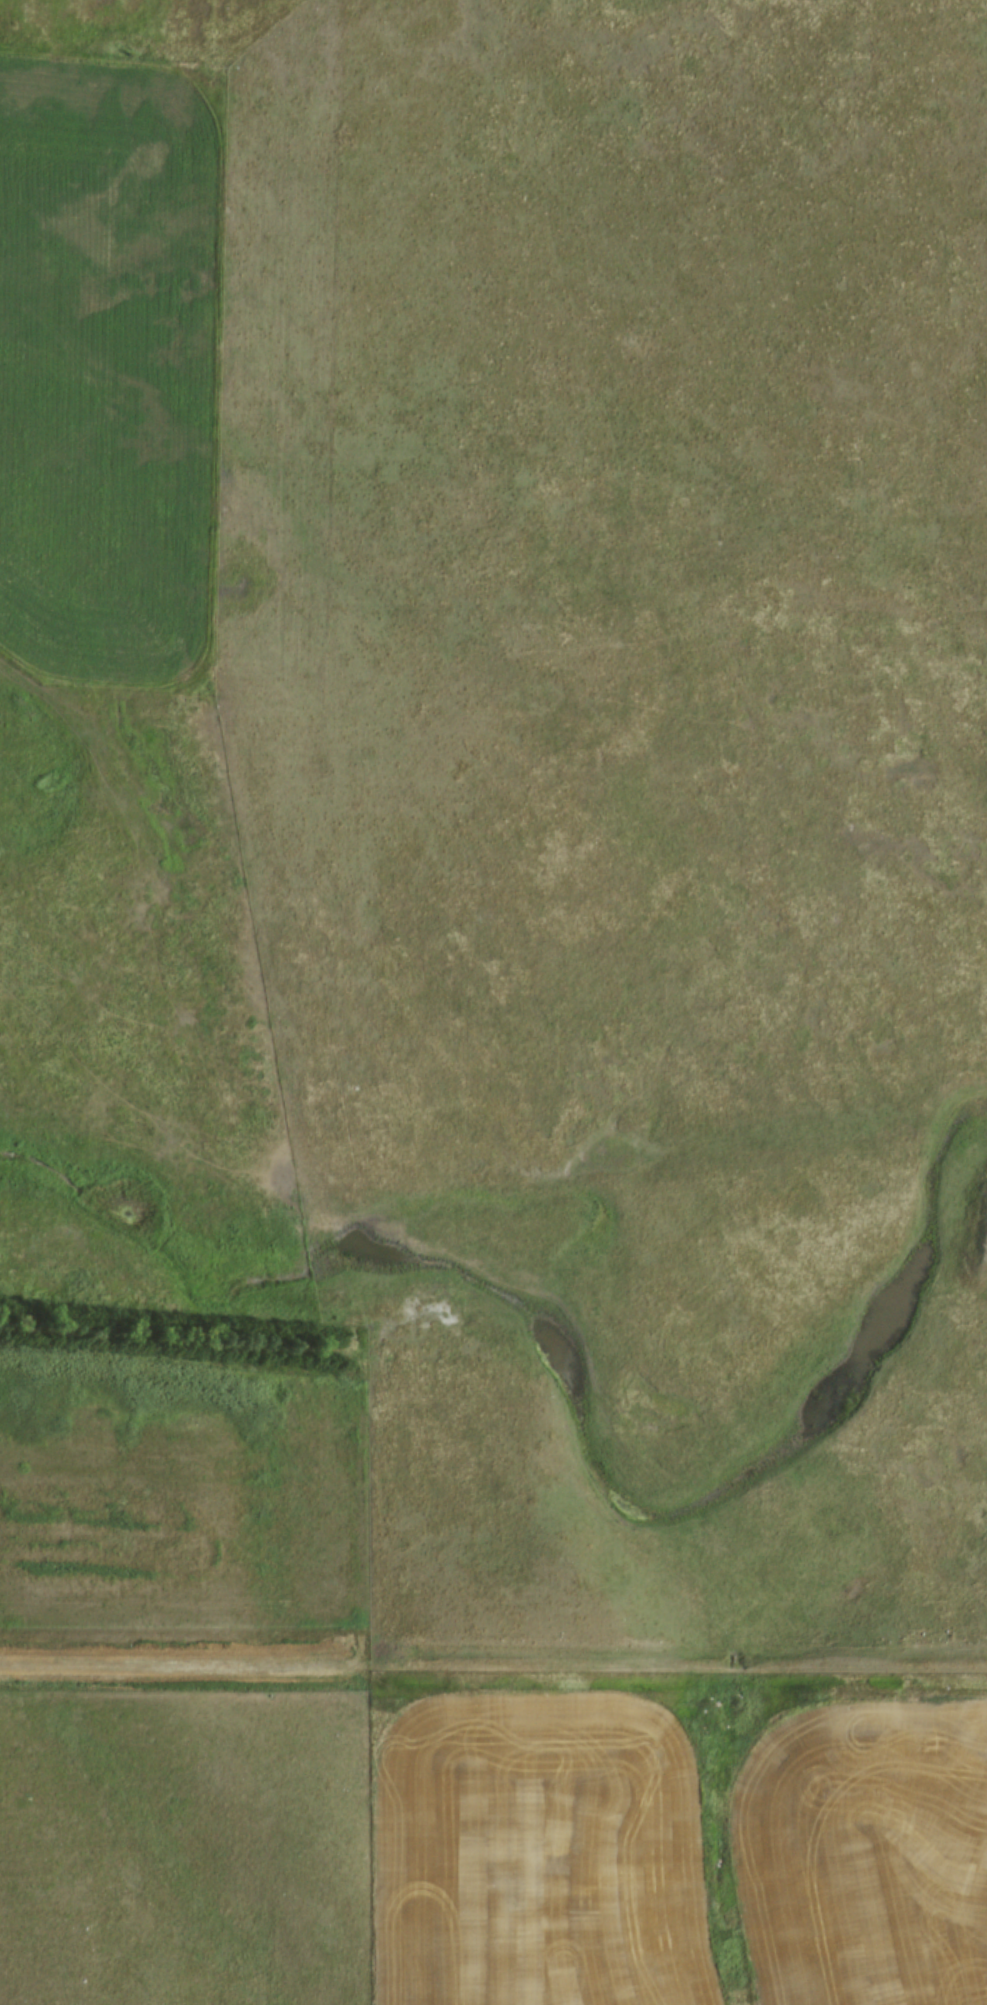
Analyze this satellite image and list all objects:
road: (493, 1622)

